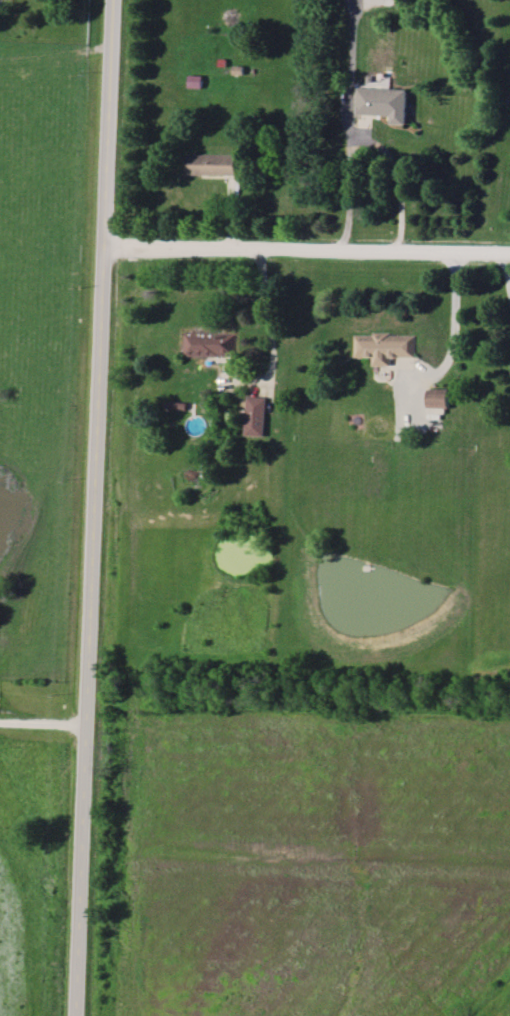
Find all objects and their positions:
building: (383, 103)
road: (350, 130)
building: (212, 165)
road: (398, 180)
road: (307, 248)
road: (506, 267)
road: (265, 306)
road: (454, 325)
building: (210, 344)
building: (385, 348)
building: (440, 400)
building: (254, 417)
road: (95, 507)
road: (44, 717)

